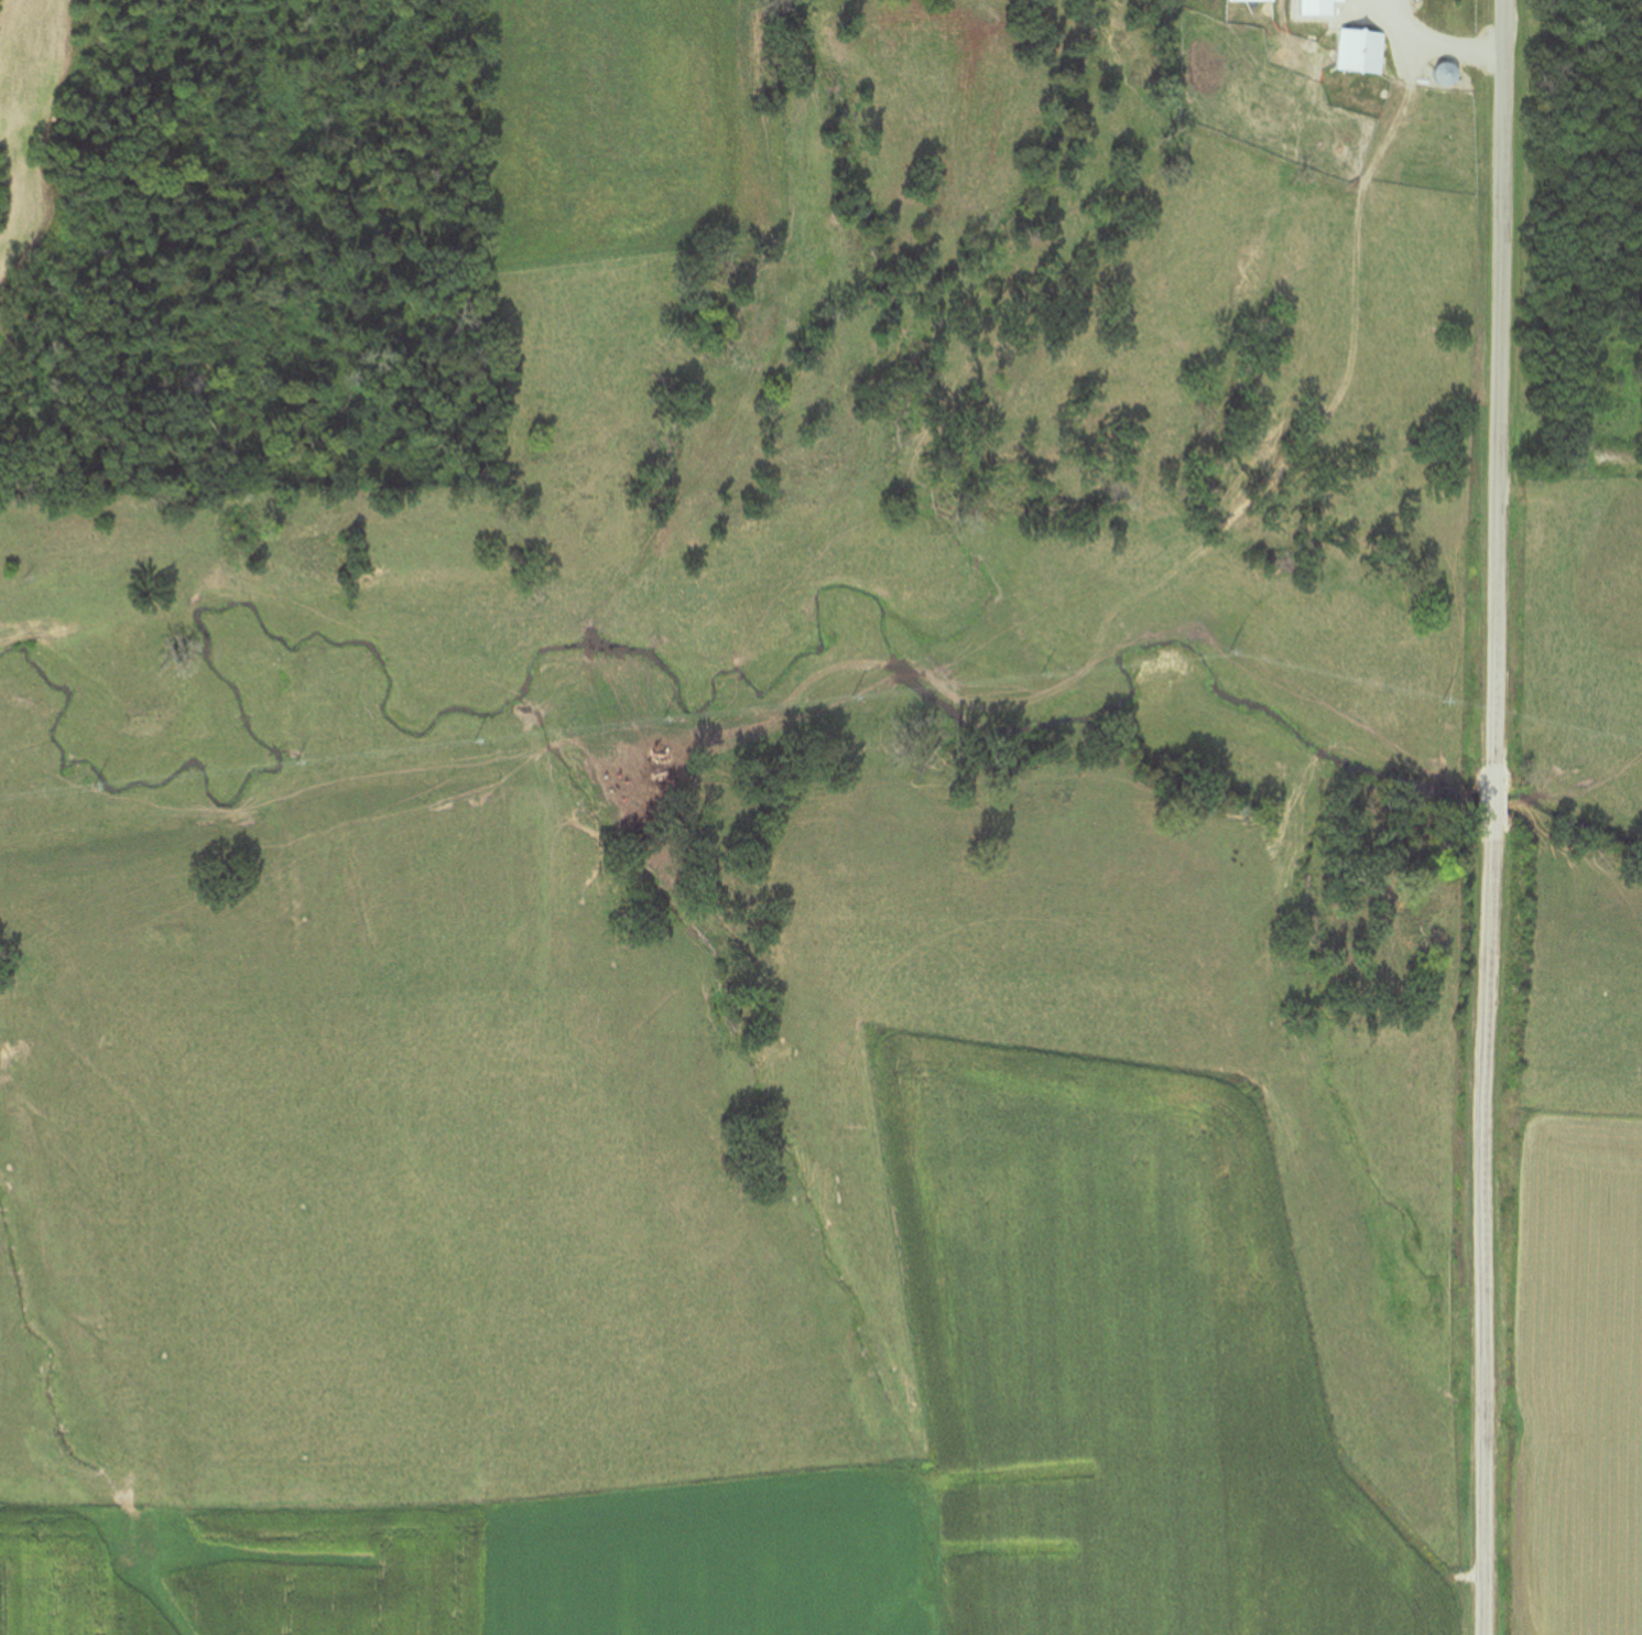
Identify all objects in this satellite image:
building: (1253, 0)
building: (1319, 8)
building: (1363, 51)
building: (1449, 73)
road: (1488, 816)

